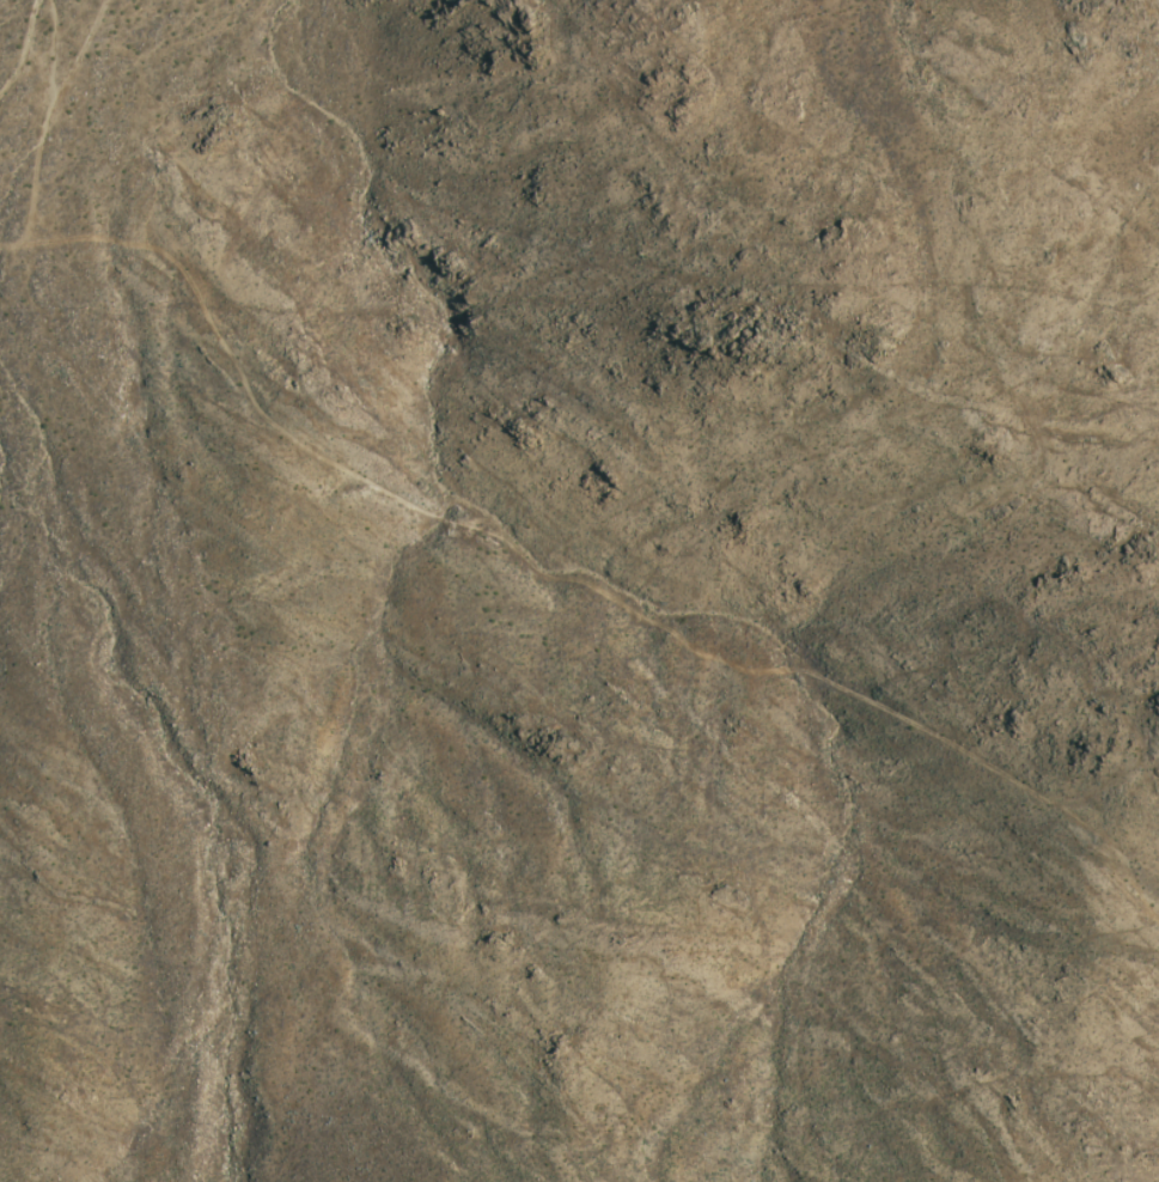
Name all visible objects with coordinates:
road: (39, 144)

